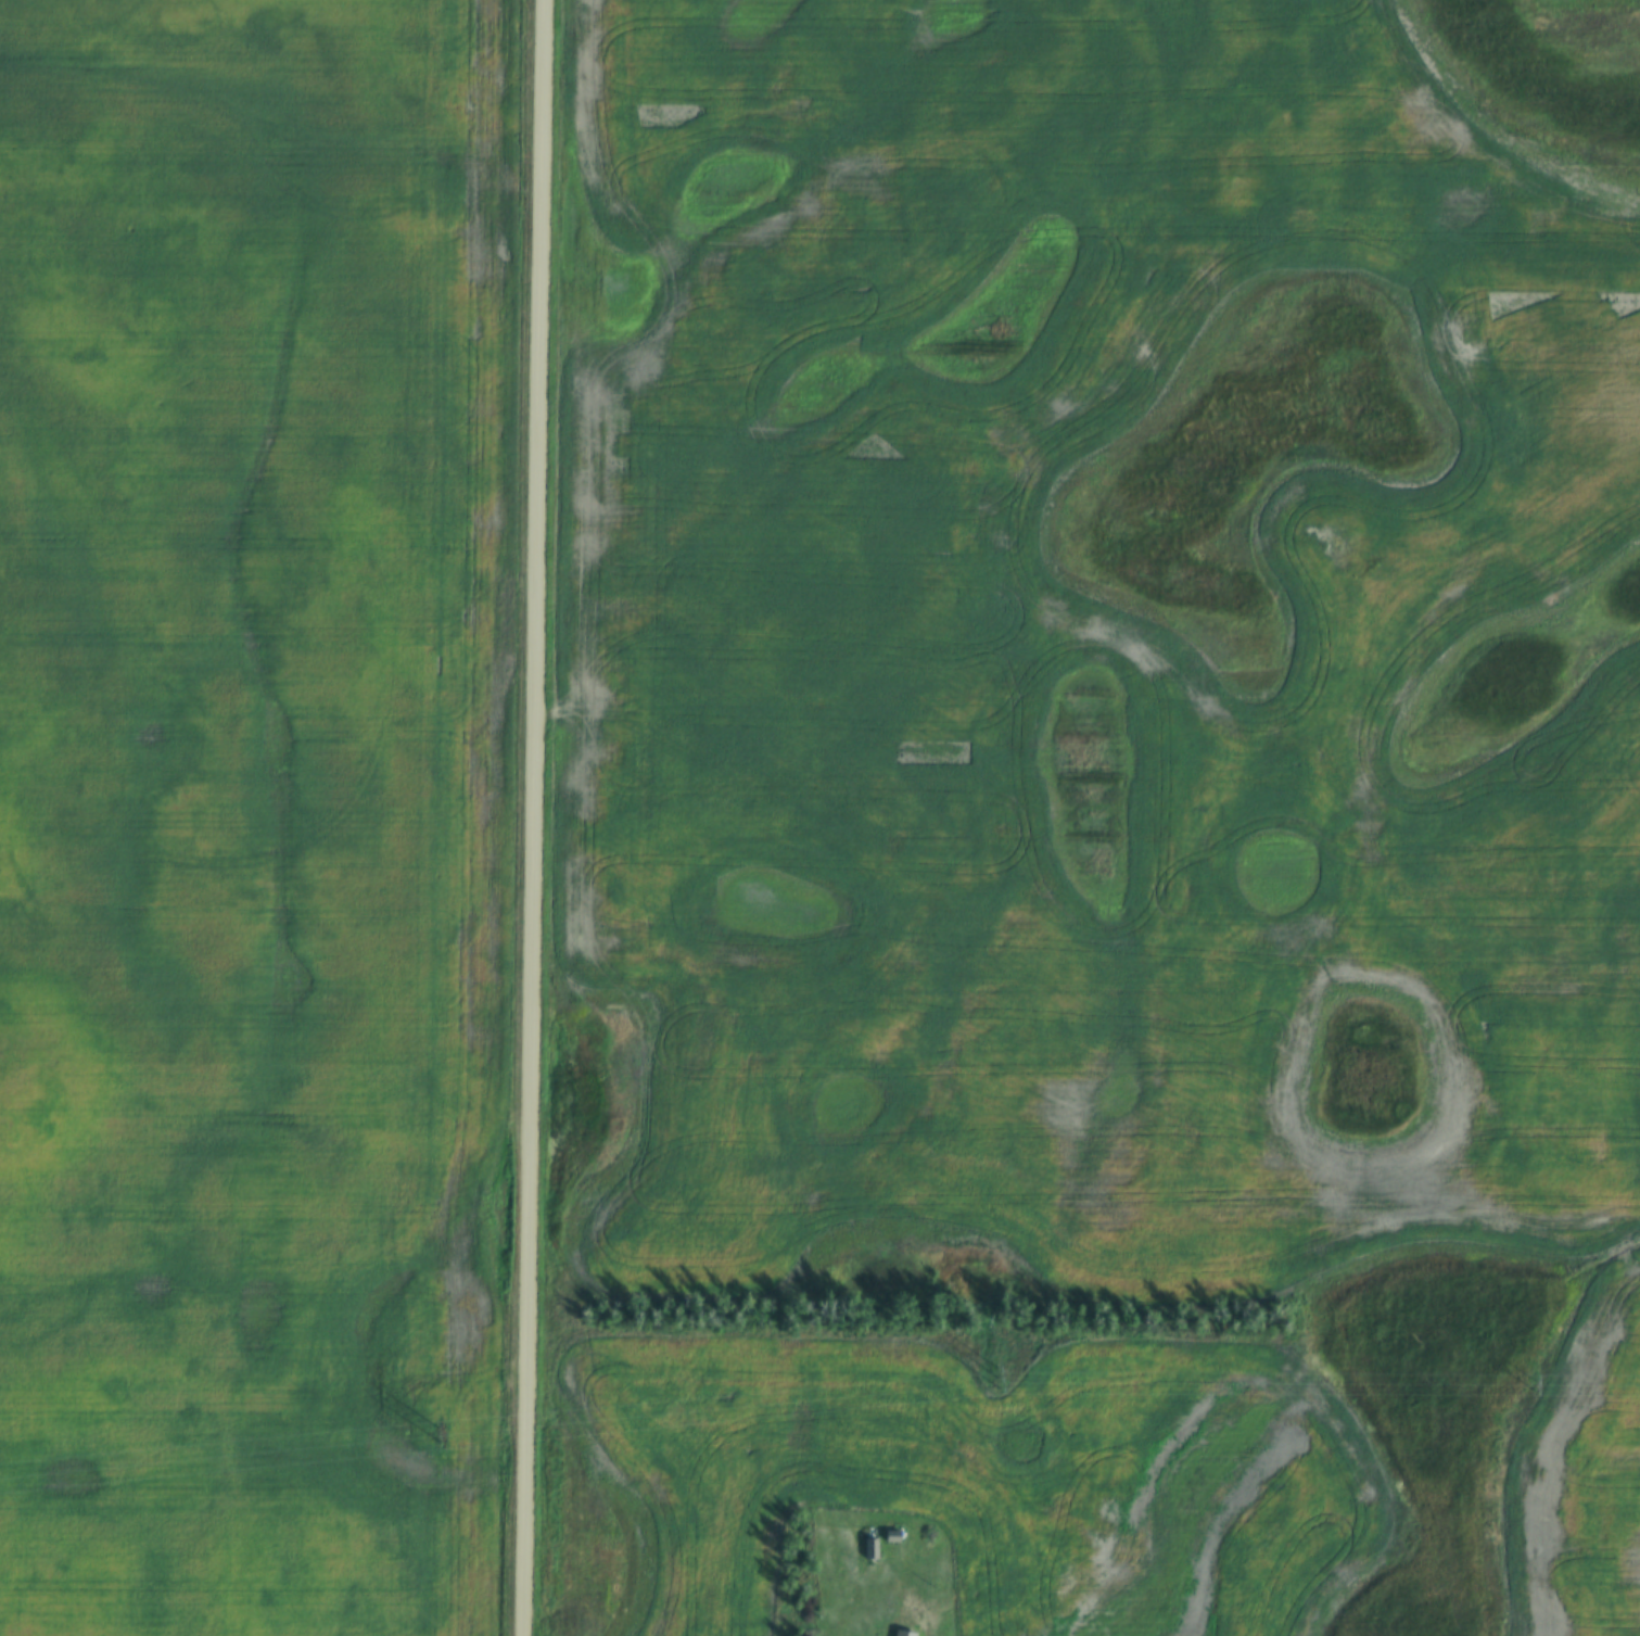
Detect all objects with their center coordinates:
road: (539, 817)
power tower: (992, 1380)
power tower: (1528, 1383)
power tower: (442, 1433)
building: (872, 1548)
road: (923, 1632)

